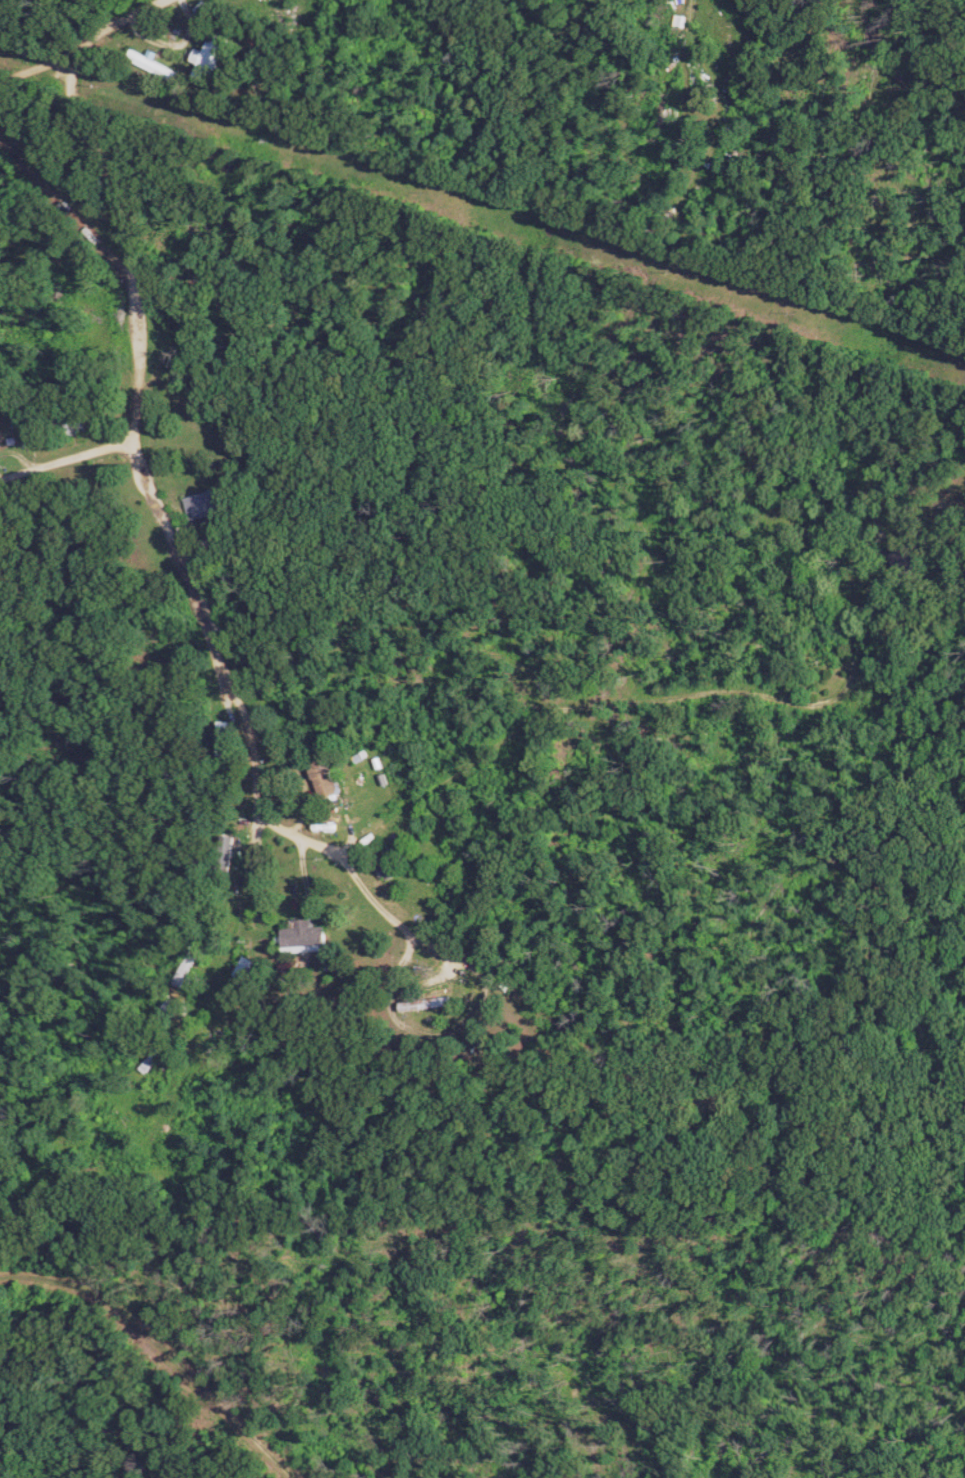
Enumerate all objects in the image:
road: (78, 43)
building: (212, 61)
building: (155, 66)
road: (99, 160)
building: (79, 423)
road: (69, 465)
building: (204, 506)
building: (907, 559)
road: (204, 616)
road: (648, 697)
building: (328, 778)
road: (303, 838)
building: (307, 934)
building: (190, 963)
building: (251, 970)
building: (428, 1004)
road: (964, 1004)
road: (624, 1080)
road: (77, 1185)
road: (165, 1345)

